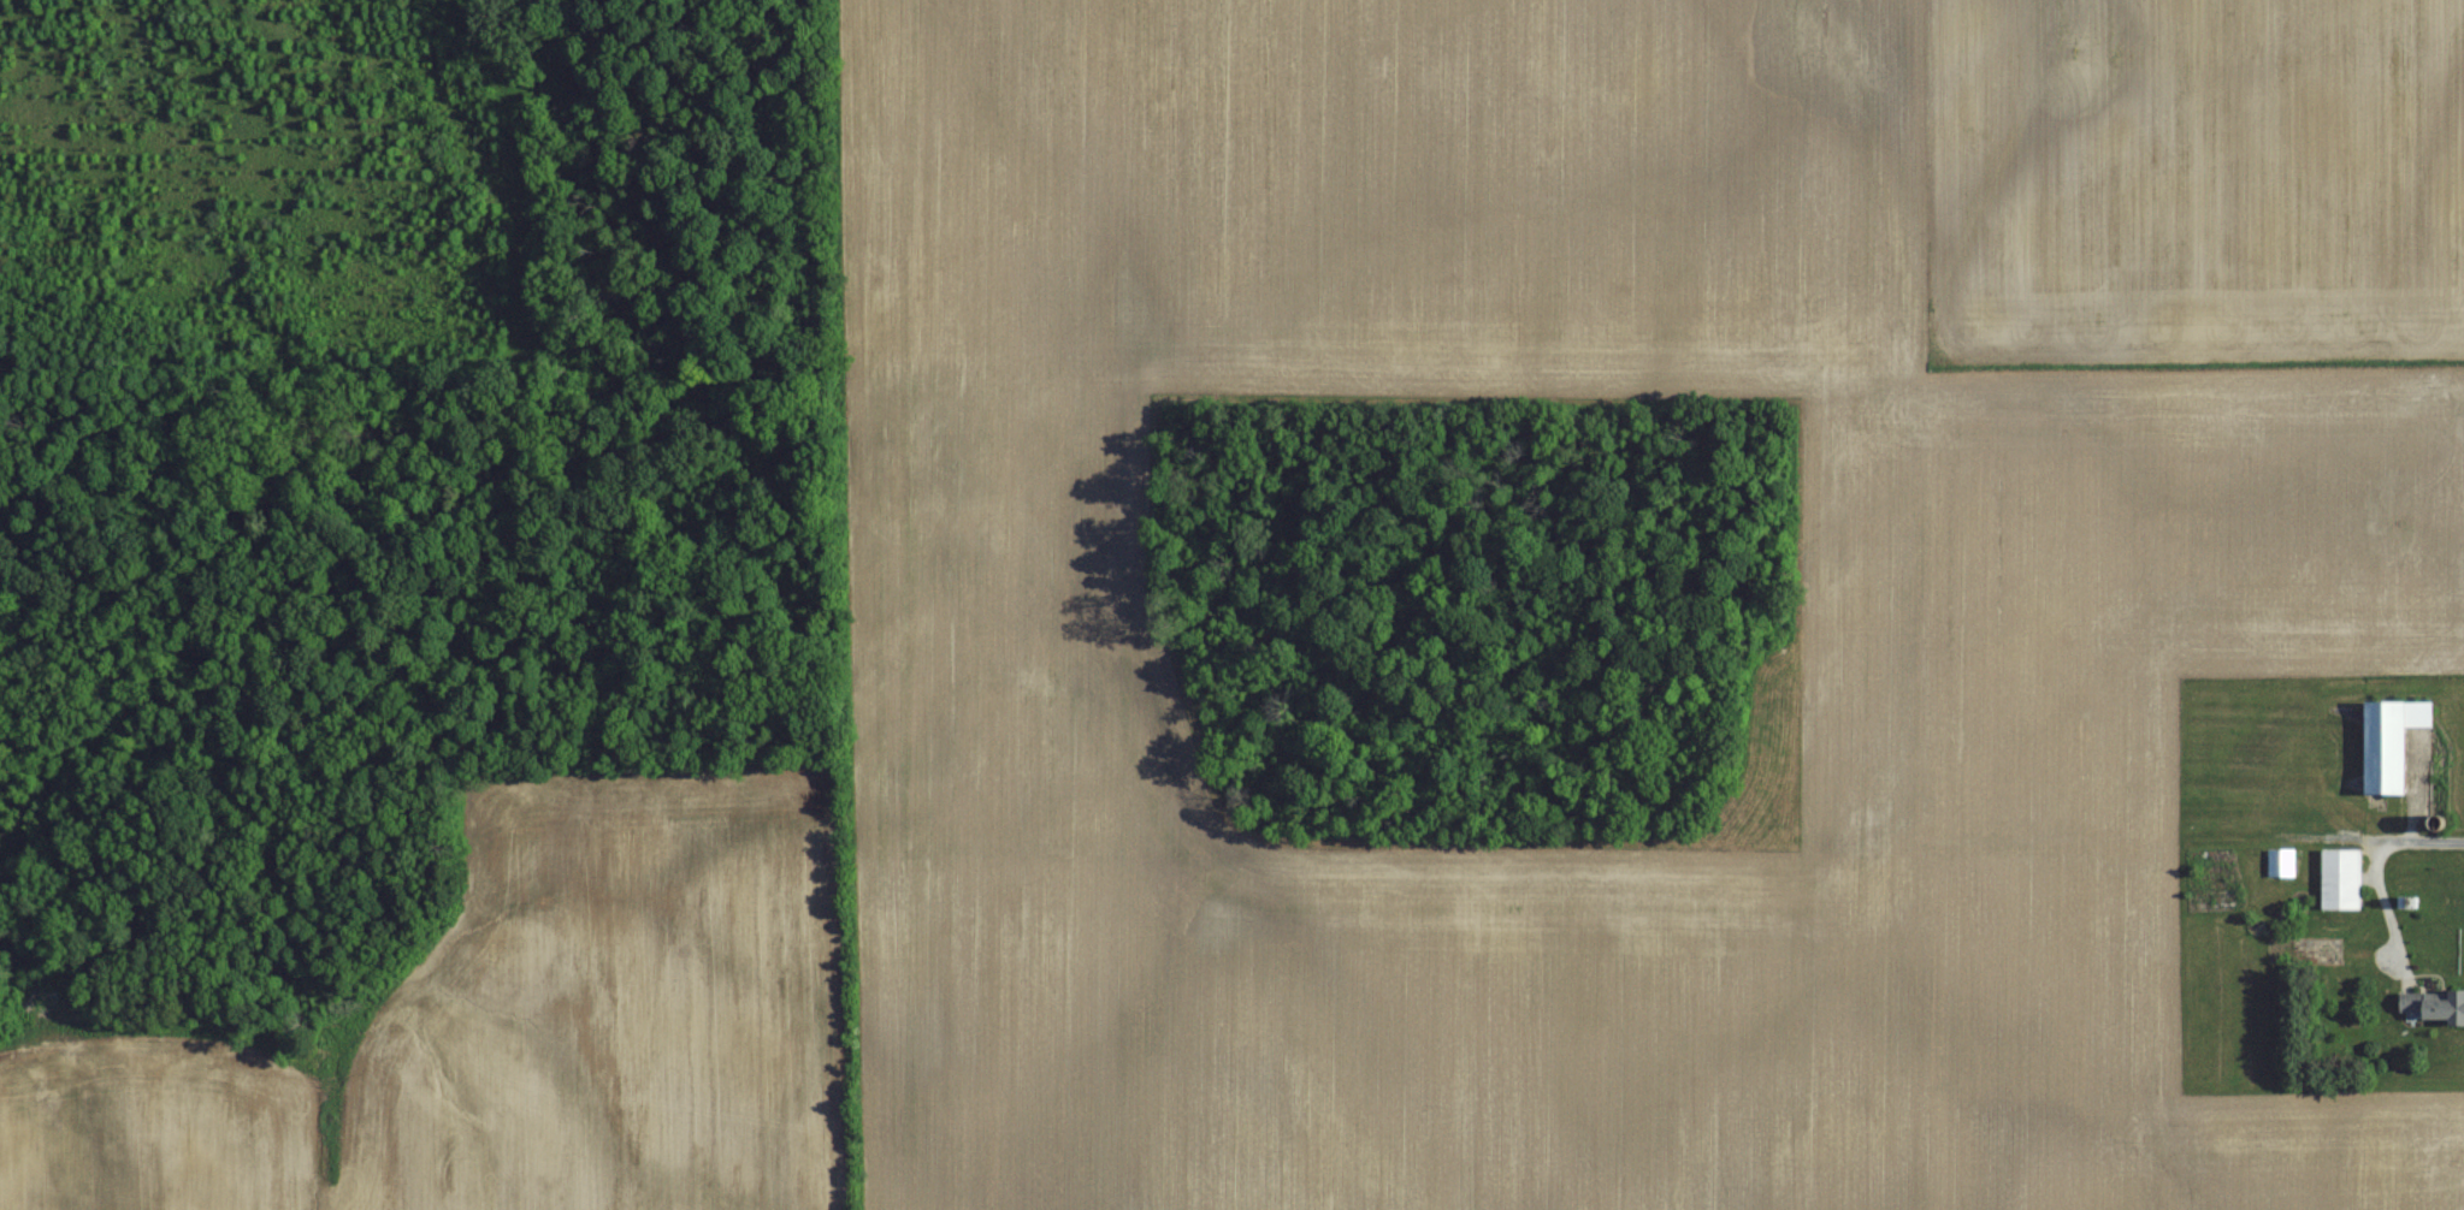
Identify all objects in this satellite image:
building: (2375, 745)
road: (2375, 849)
building: (2336, 877)
building: (2431, 1004)

